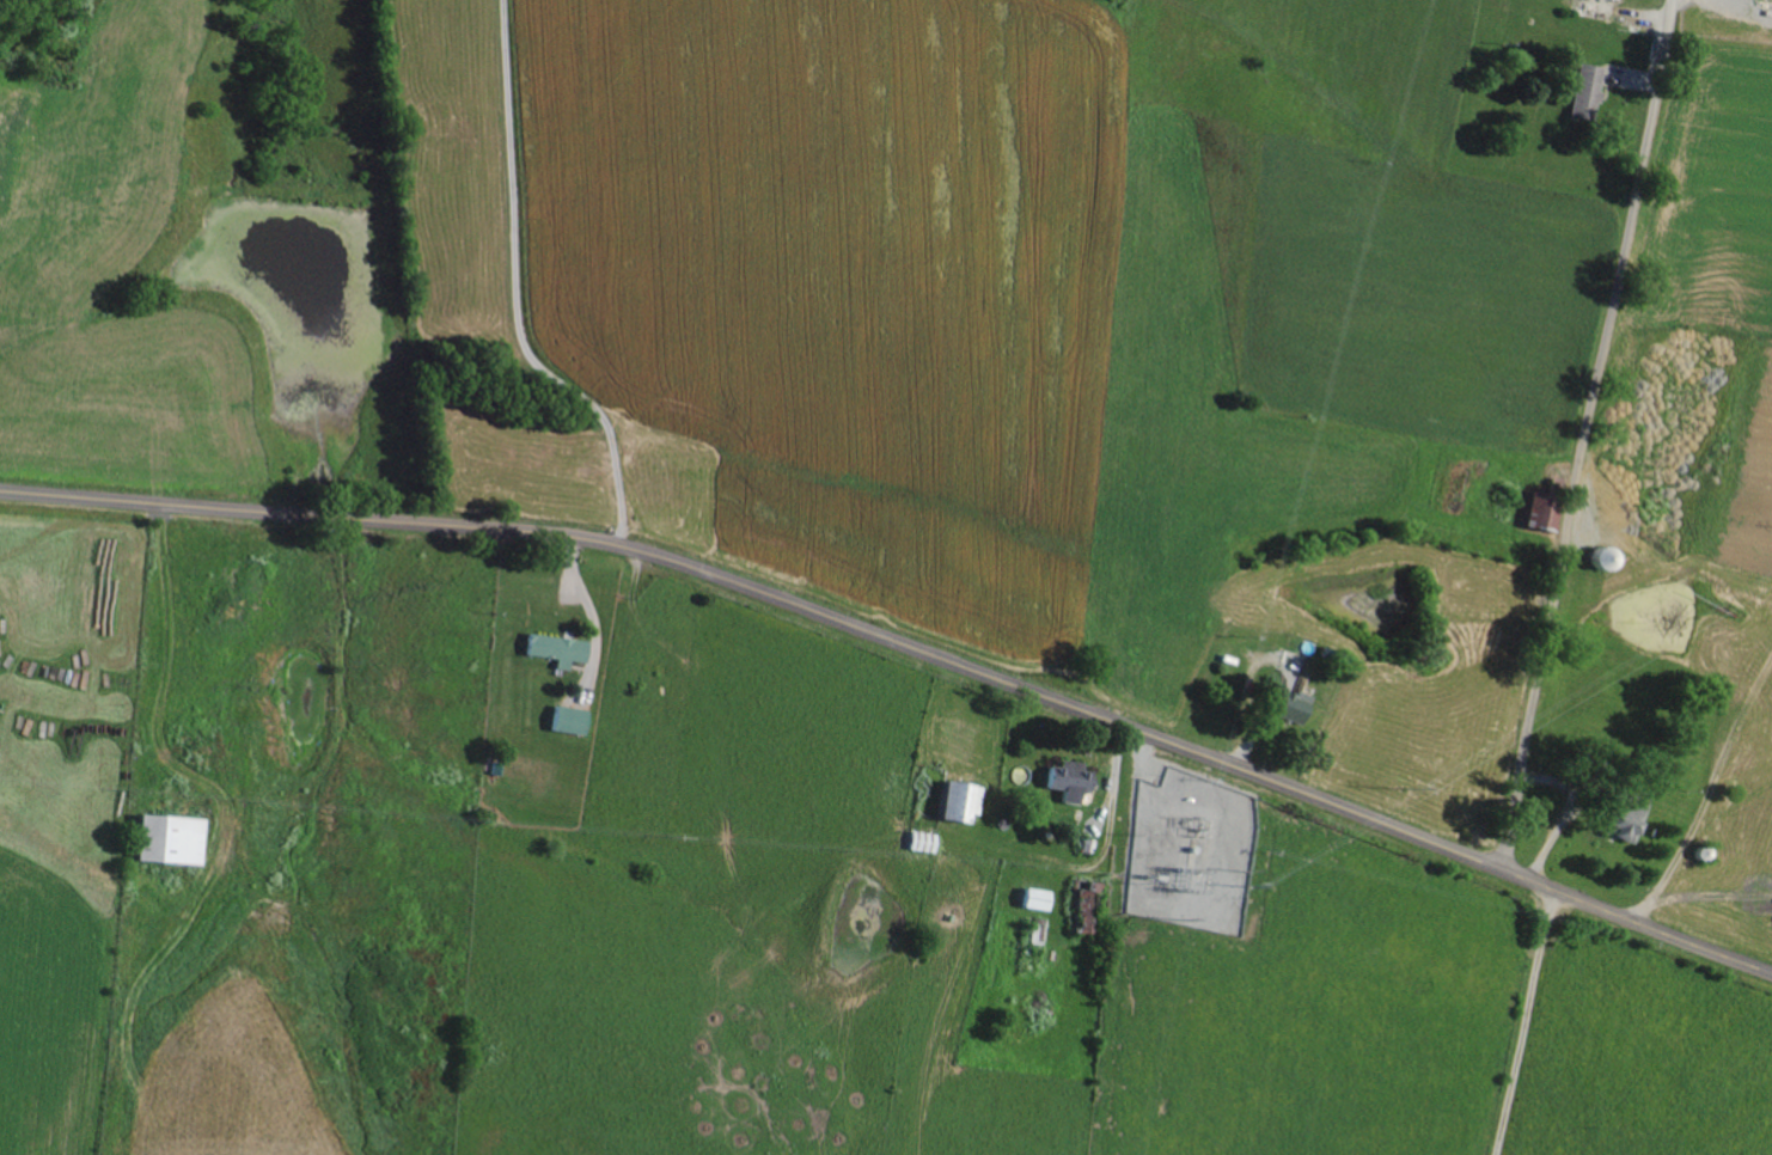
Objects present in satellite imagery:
building: (1582, 90)
road: (514, 293)
road: (1587, 434)
road: (905, 644)
building: (1287, 703)
building: (568, 717)
building: (1065, 778)
building: (1618, 815)
building: (161, 836)
power substation: (1190, 849)
road: (1524, 1021)

